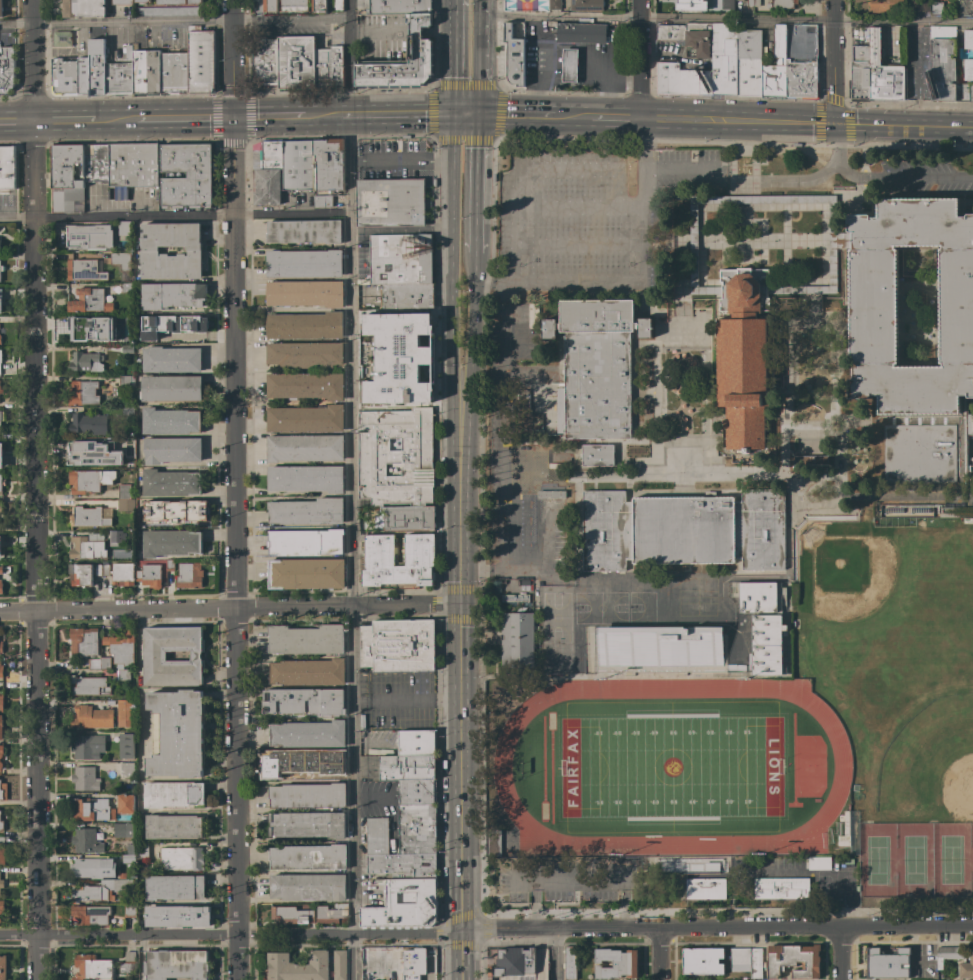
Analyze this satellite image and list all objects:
building: (143, 1)
building: (122, 2)
building: (169, 2)
building: (194, 2)
building: (752, 3)
building: (555, 4)
building: (585, 4)
building: (727, 4)
building: (781, 4)
building: (269, 5)
building: (294, 5)
building: (337, 5)
building: (683, 5)
building: (923, 5)
building: (319, 6)
building: (398, 6)
building: (886, 6)
building: (966, 7)
building: (83, 8)
road: (476, 8)
building: (1, 9)
building: (937, 9)
building: (169, 11)
road: (724, 22)
building: (551, 23)
road: (173, 24)
road: (374, 29)
building: (580, 33)
road: (535, 34)
building: (61, 36)
building: (688, 37)
building: (968, 39)
road: (568, 46)
road: (655, 55)
road: (456, 56)
building: (514, 57)
road: (638, 57)
building: (723, 58)
building: (200, 61)
building: (402, 61)
building: (802, 62)
road: (833, 62)
building: (295, 63)
building: (749, 63)
building: (943, 63)
road: (476, 65)
building: (569, 65)
building: (775, 66)
building: (96, 68)
building: (968, 69)
building: (6, 70)
building: (145, 72)
building: (883, 72)
building: (173, 73)
building: (859, 75)
road: (917, 75)
building: (83, 76)
building: (64, 77)
building: (118, 79)
building: (682, 80)
building: (964, 92)
building: (740, 96)
road: (490, 113)
traffic signals: (456, 114)
road: (460, 114)
road: (470, 114)
traffic signals: (475, 114)
road: (548, 114)
road: (402, 115)
road: (598, 115)
road: (622, 116)
road: (641, 116)
road: (290, 117)
road: (132, 118)
traffic signals: (232, 118)
road: (16, 119)
road: (739, 121)
traffic signals: (833, 125)
road: (835, 125)
road: (905, 125)
road: (838, 136)
road: (455, 138)
road: (402, 161)
building: (297, 165)
building: (328, 165)
building: (96, 166)
building: (6, 167)
building: (131, 167)
road: (527, 168)
building: (268, 174)
building: (199, 175)
road: (895, 176)
building: (68, 177)
road: (745, 178)
road: (472, 183)
building: (322, 201)
building: (390, 202)
road: (578, 206)
road: (809, 206)
road: (175, 217)
road: (385, 227)
road: (436, 227)
building: (125, 229)
building: (304, 232)
road: (742, 236)
building: (88, 238)
road: (762, 238)
road: (760, 240)
road: (647, 241)
building: (691, 243)
road: (578, 244)
building: (149, 252)
building: (400, 258)
building: (303, 263)
building: (122, 264)
road: (642, 265)
road: (470, 267)
building: (1, 268)
building: (83, 269)
road: (453, 278)
road: (488, 282)
building: (126, 288)
road: (523, 288)
road: (614, 292)
building: (305, 293)
building: (173, 296)
building: (406, 296)
building: (89, 301)
building: (0, 305)
building: (873, 306)
building: (304, 326)
building: (84, 327)
building: (181, 328)
building: (127, 337)
building: (140, 337)
road: (469, 338)
building: (522, 341)
building: (127, 349)
building: (304, 355)
building: (739, 356)
building: (0, 358)
building: (171, 359)
building: (85, 362)
building: (595, 367)
road: (530, 373)
building: (124, 381)
building: (305, 386)
building: (171, 388)
building: (1, 391)
building: (83, 393)
building: (529, 400)
building: (127, 411)
building: (1, 416)
building: (305, 419)
building: (170, 421)
building: (88, 424)
building: (530, 424)
road: (508, 425)
road: (783, 445)
building: (304, 448)
building: (171, 450)
building: (95, 453)
building: (1, 455)
building: (596, 455)
building: (396, 457)
road: (540, 459)
road: (747, 472)
building: (305, 479)
building: (84, 481)
building: (1, 482)
road: (458, 482)
building: (170, 483)
road: (35, 489)
road: (233, 490)
road: (351, 490)
building: (124, 491)
building: (549, 494)
building: (125, 505)
building: (889, 508)
building: (0, 509)
building: (175, 512)
building: (306, 512)
building: (89, 517)
building: (408, 518)
building: (683, 530)
building: (115, 536)
building: (305, 542)
building: (170, 543)
road: (542, 546)
building: (86, 549)
building: (0, 550)
road: (787, 556)
building: (379, 559)
building: (170, 565)
building: (1, 570)
building: (97, 570)
building: (105, 570)
road: (473, 570)
road: (520, 570)
building: (305, 573)
building: (122, 574)
building: (80, 575)
building: (149, 575)
building: (189, 575)
park: (859, 578)
building: (524, 582)
road: (458, 585)
building: (0, 587)
building: (496, 593)
park: (686, 595)
park: (706, 595)
building: (754, 597)
building: (515, 598)
traffic signals: (458, 601)
road: (229, 606)
park: (599, 606)
park: (641, 606)
park: (555, 624)
building: (305, 640)
building: (517, 640)
building: (83, 642)
building: (763, 644)
building: (398, 646)
building: (658, 646)
building: (1, 647)
building: (121, 648)
building: (154, 656)
building: (105, 663)
building: (94, 664)
building: (1, 668)
building: (307, 672)
building: (123, 675)
building: (89, 686)
track: (684, 687)
road: (407, 700)
building: (304, 701)
building: (1, 703)
building: (124, 710)
building: (90, 718)
building: (1, 727)
building: (177, 733)
building: (308, 734)
building: (416, 743)
building: (125, 746)
building: (87, 747)
building: (1, 751)
building: (294, 762)
track: (841, 763)
building: (0, 765)
track: (500, 765)
road: (458, 766)
park: (670, 766)
building: (340, 767)
building: (407, 767)
building: (127, 770)
park: (948, 777)
building: (84, 779)
building: (3, 792)
building: (418, 792)
building: (172, 794)
building: (308, 796)
building: (126, 804)
building: (91, 810)
building: (308, 824)
building: (1, 826)
building: (173, 827)
building: (123, 830)
building: (406, 832)
road: (17, 838)
building: (86, 841)
building: (494, 843)
track: (670, 843)
building: (140, 850)
building: (1, 854)
building: (308, 857)
building: (182, 858)
building: (128, 859)
park: (951, 859)
park: (876, 860)
park: (913, 860)
building: (818, 863)
building: (404, 865)
building: (93, 868)
road: (823, 875)
road: (556, 880)
building: (1, 884)
building: (120, 885)
building: (308, 887)
building: (174, 888)
building: (781, 888)
building: (706, 889)
building: (89, 894)
building: (404, 905)
building: (1, 906)
building: (129, 911)
building: (331, 913)
building: (89, 915)
building: (292, 915)
building: (176, 916)
building: (0, 920)
road: (715, 926)
traffic signals: (459, 931)
road: (117, 933)
road: (294, 933)
road: (406, 933)
road: (838, 952)
road: (555, 953)
road: (657, 953)
building: (948, 954)
road: (459, 955)
building: (130, 956)
building: (739, 959)
building: (702, 961)
building: (794, 961)
building: (396, 963)
building: (568, 963)
building: (616, 963)
building: (756, 963)
building: (887, 963)
building: (514, 964)
building: (176, 965)
building: (307, 966)
building: (930, 966)
building: (966, 966)
building: (3, 967)
building: (92, 967)
building: (127, 967)

